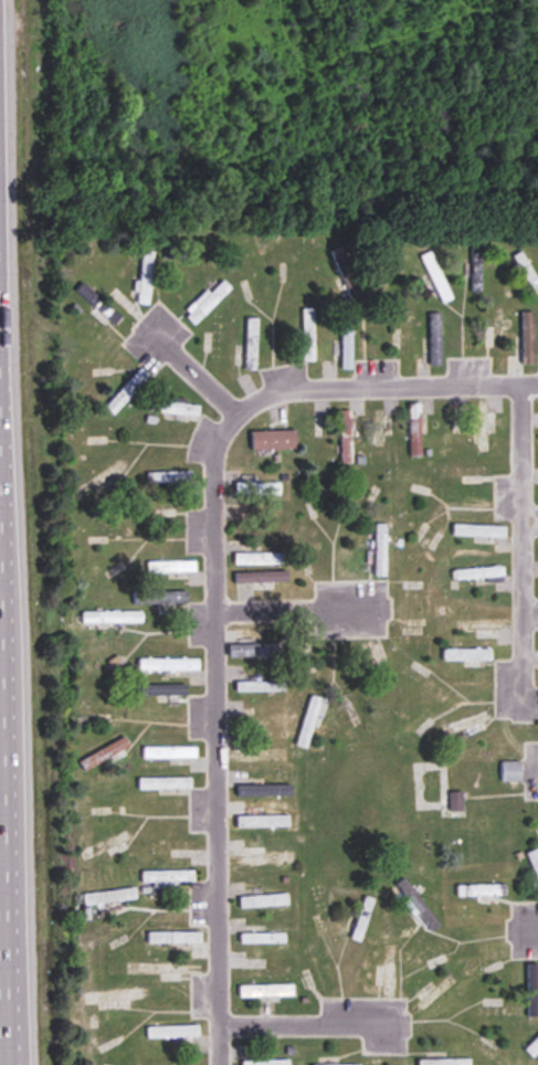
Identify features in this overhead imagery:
building: (383, 264)
building: (525, 270)
building: (145, 278)
building: (207, 300)
building: (307, 334)
building: (527, 338)
building: (435, 339)
building: (251, 344)
building: (346, 344)
road: (187, 367)
road: (382, 384)
building: (172, 409)
building: (379, 429)
building: (484, 429)
building: (415, 430)
building: (346, 437)
building: (273, 441)
building: (465, 472)
building: (168, 477)
building: (102, 481)
building: (257, 489)
building: (360, 497)
building: (478, 531)
building: (380, 550)
road: (521, 550)
building: (310, 556)
building: (170, 567)
building: (481, 573)
building: (262, 577)
road: (299, 607)
building: (483, 626)
building: (254, 650)
building: (466, 657)
building: (300, 658)
building: (376, 664)
building: (251, 686)
building: (159, 690)
building: (309, 723)
building: (466, 725)
road: (214, 736)
building: (104, 755)
road: (531, 768)
building: (510, 772)
building: (165, 784)
building: (263, 792)
building: (455, 803)
building: (106, 846)
road: (3, 848)
building: (267, 860)
building: (168, 877)
building: (109, 897)
building: (263, 901)
road: (529, 924)
building: (173, 938)
building: (262, 939)
building: (150, 969)
building: (388, 971)
building: (265, 991)
building: (114, 998)
road: (313, 1021)
building: (172, 1032)
building: (532, 1047)
building: (444, 1062)
building: (265, 1063)

